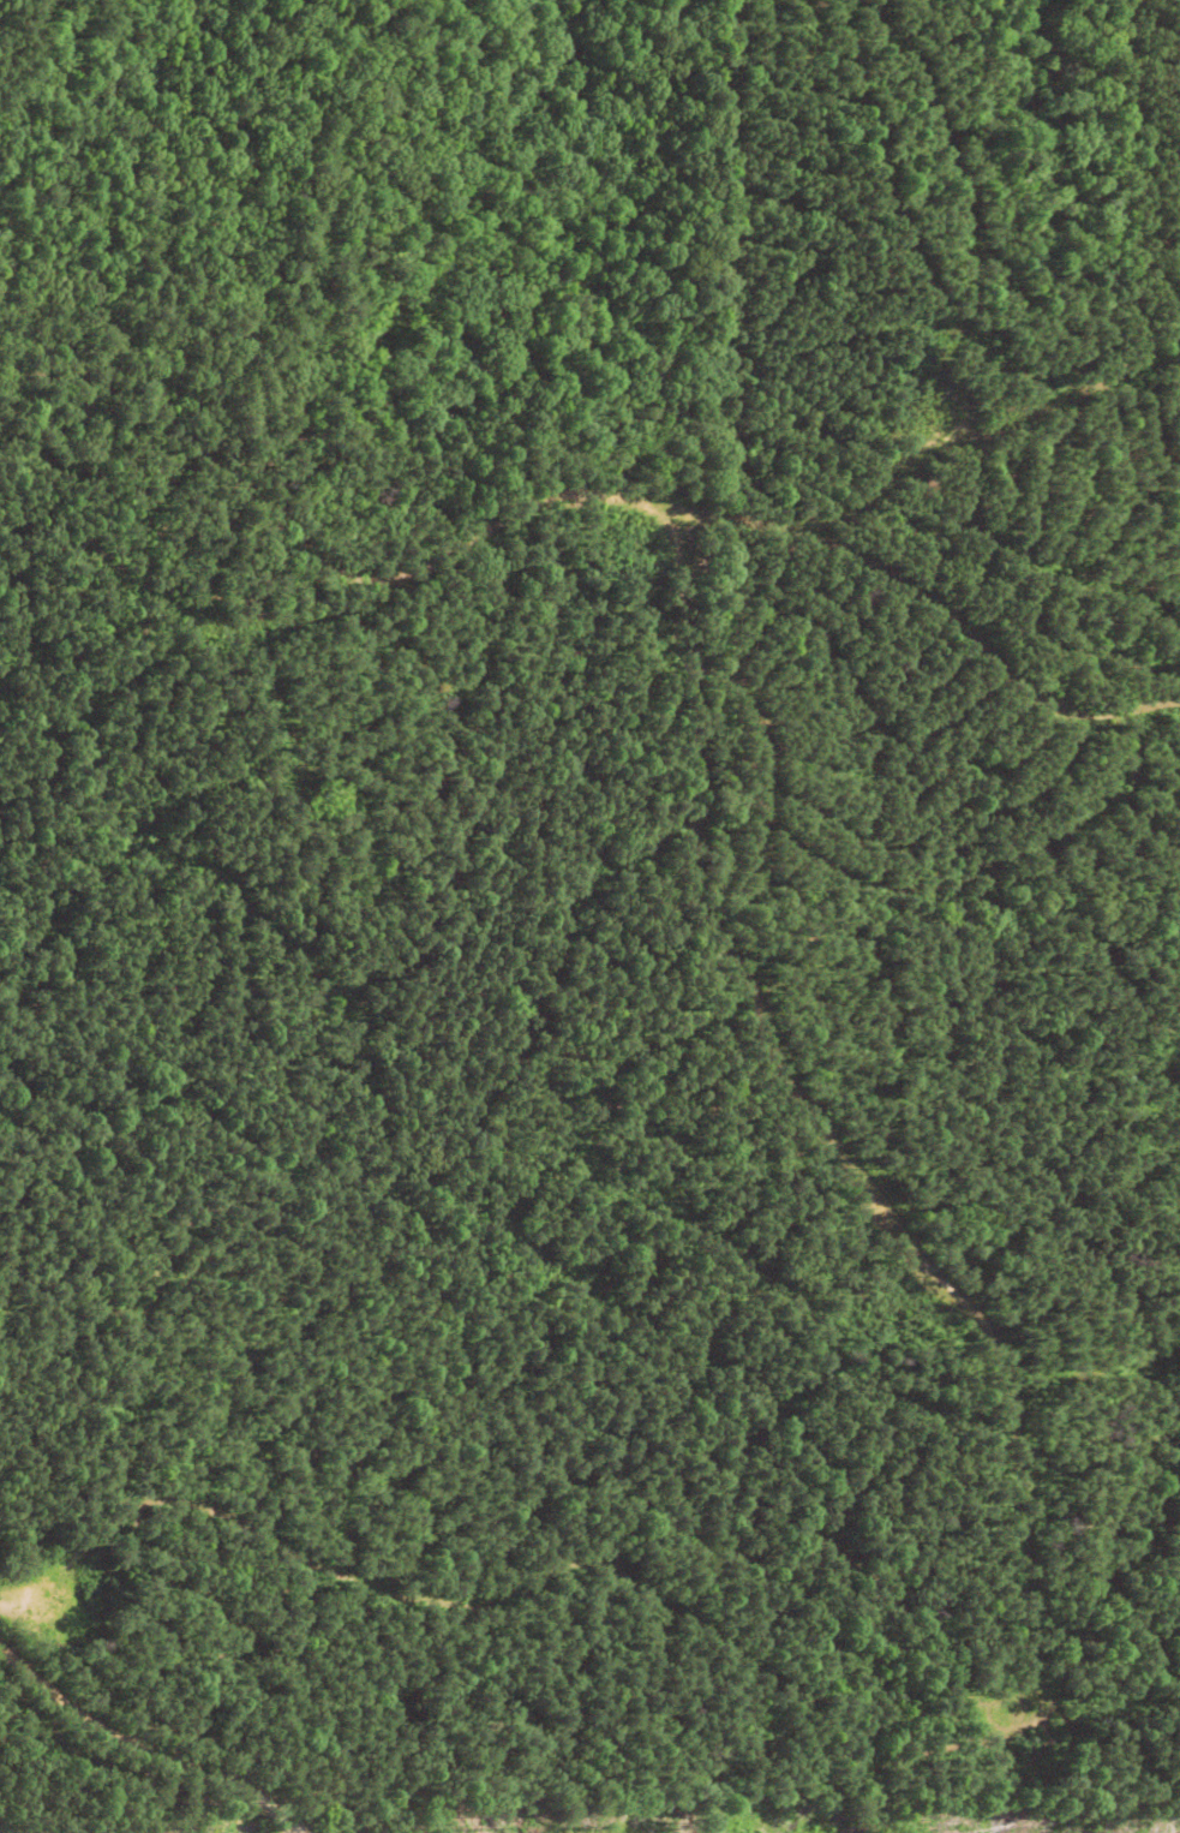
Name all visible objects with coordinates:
road: (134, 1744)

